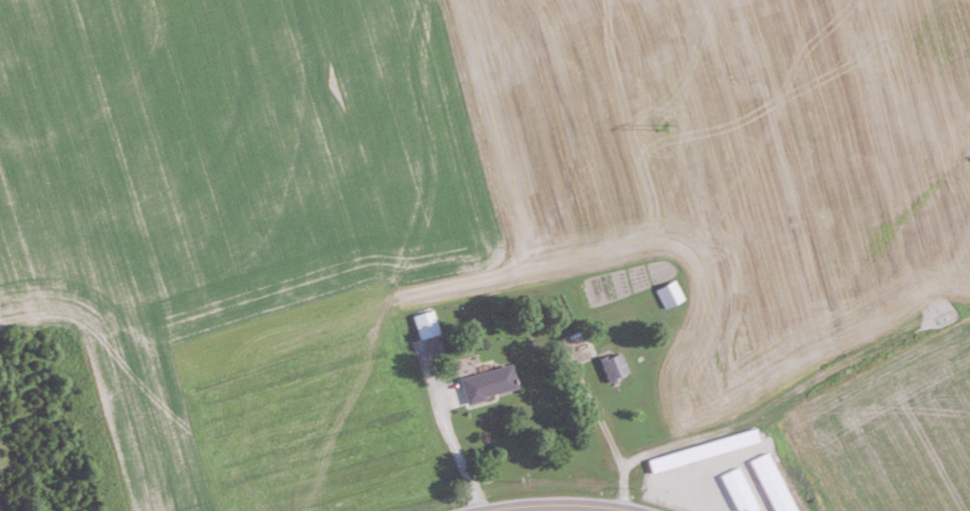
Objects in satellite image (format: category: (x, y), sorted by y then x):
building: (670, 295)
building: (427, 325)
building: (615, 366)
building: (489, 383)
road: (604, 429)
road: (672, 447)
road: (456, 448)
building: (672, 466)
building: (763, 496)
road: (563, 506)

